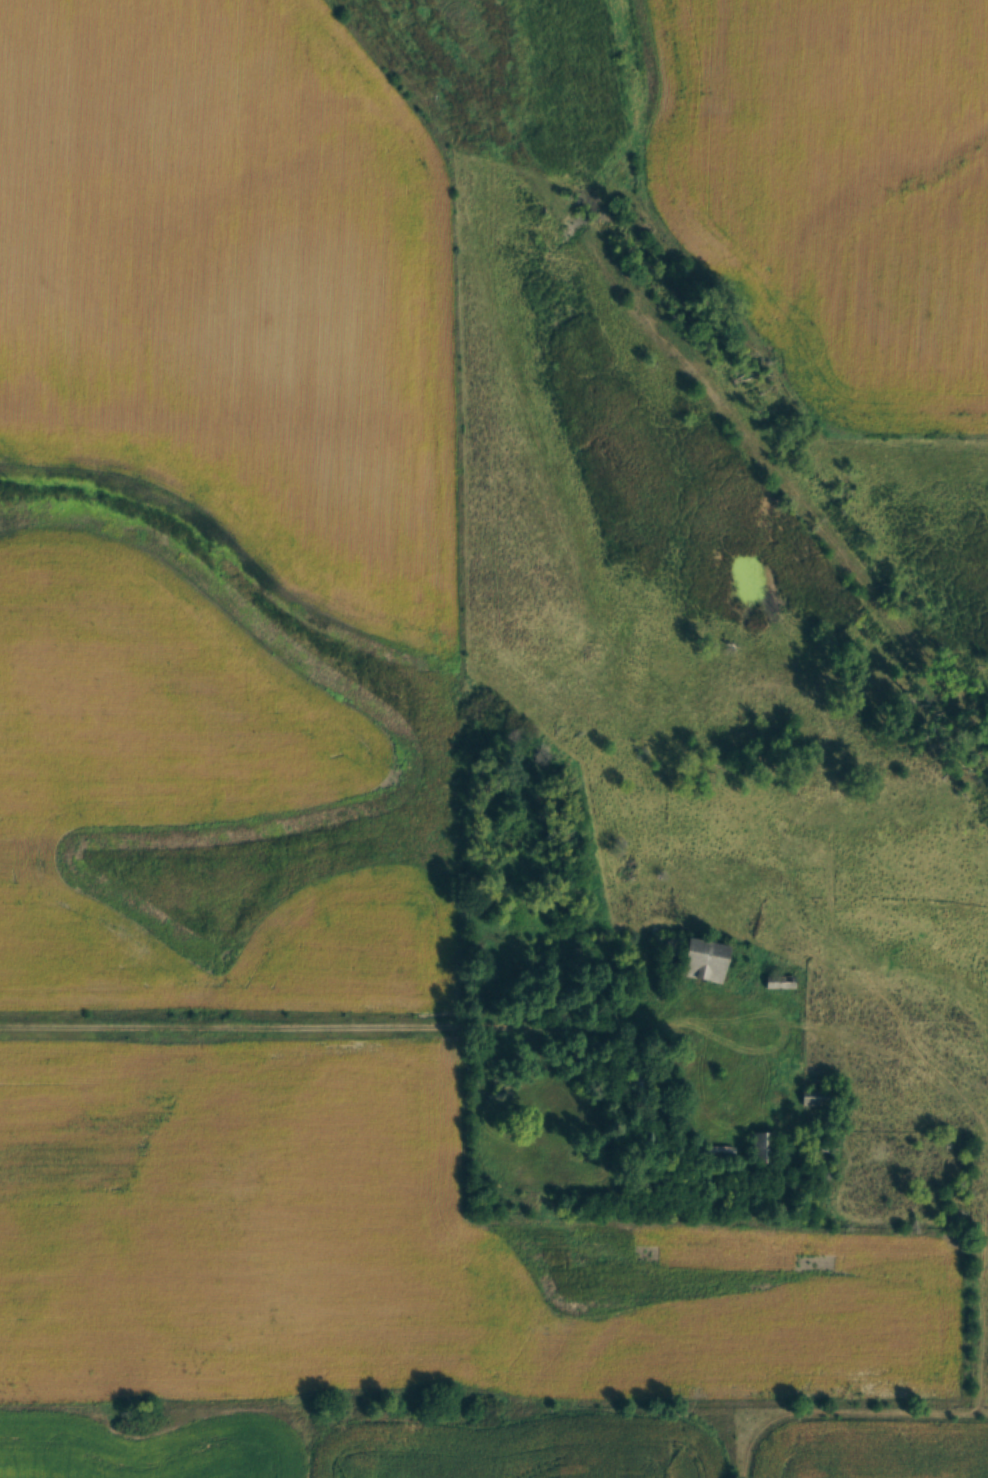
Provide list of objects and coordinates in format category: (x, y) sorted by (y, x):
road: (343, 1015)
road: (779, 1021)
building: (635, 1080)

